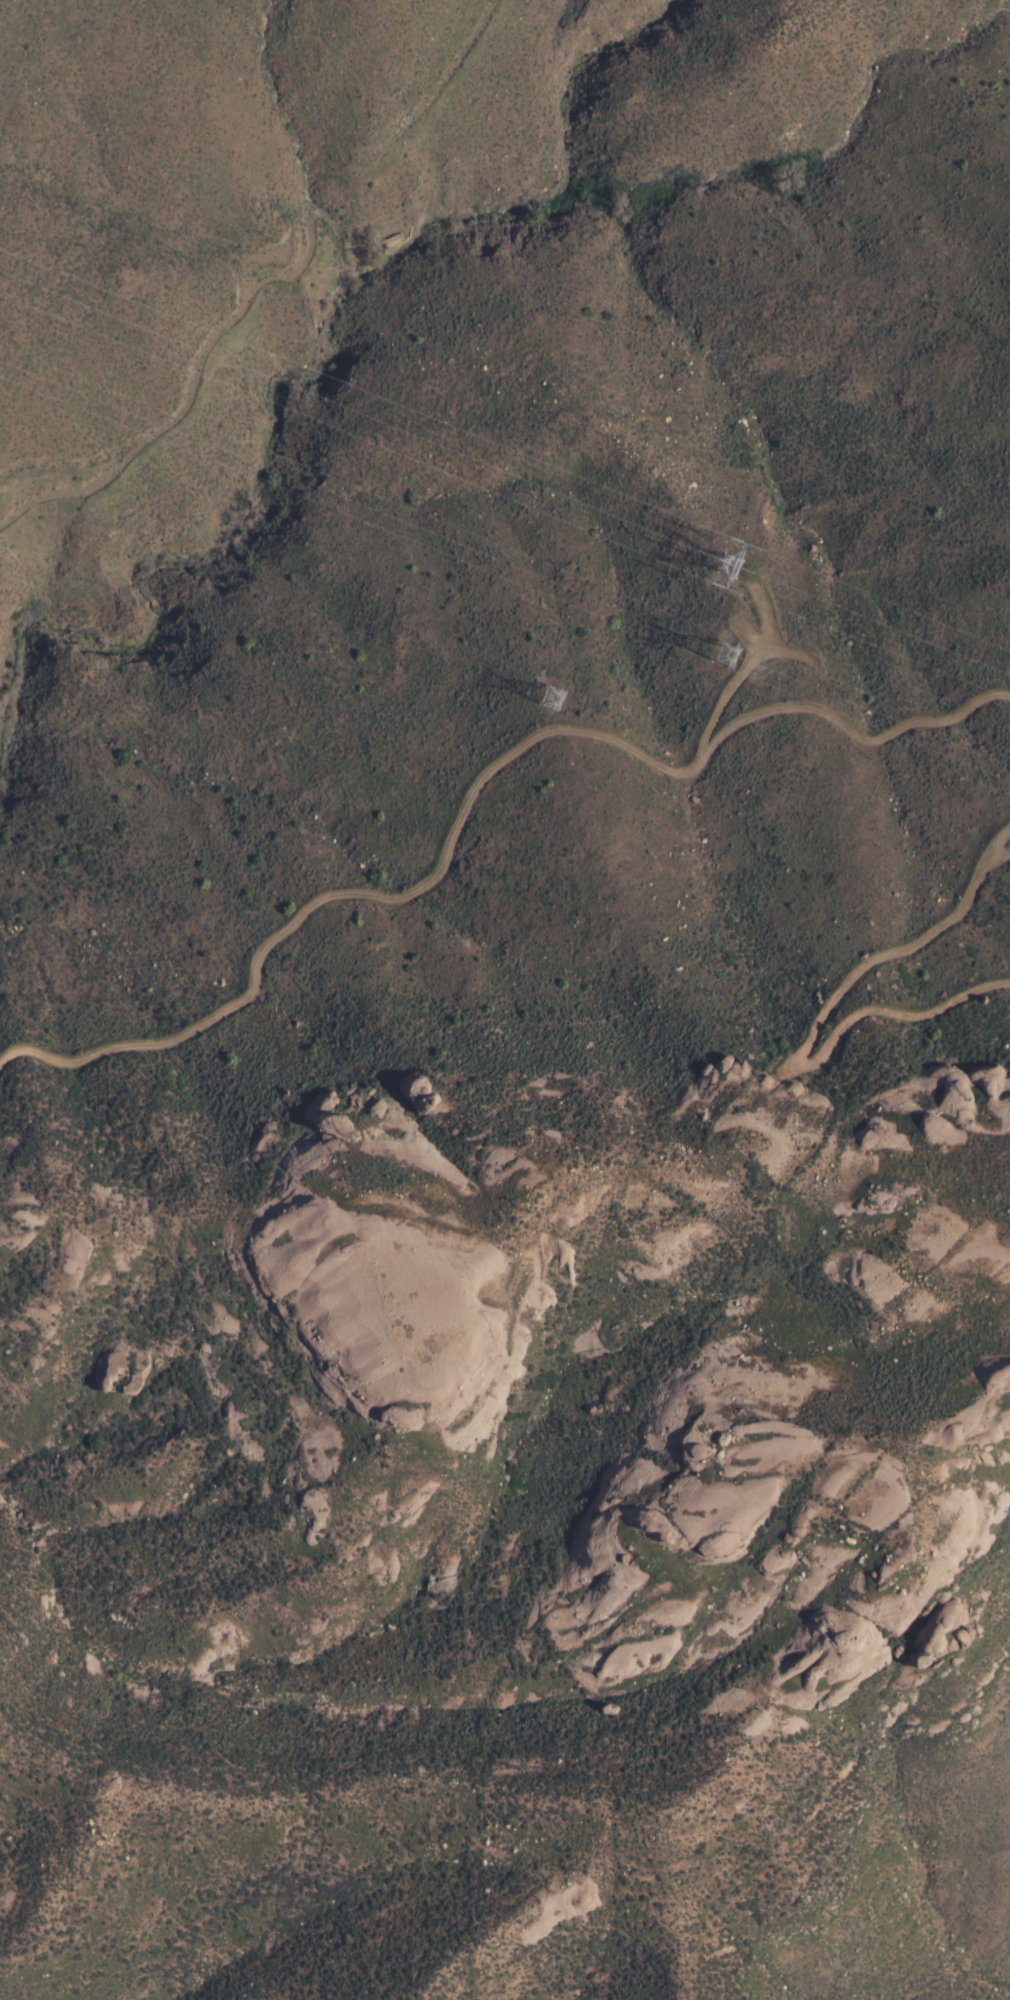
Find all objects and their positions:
building: (392, 238)
power tower: (713, 560)
power tower: (723, 654)
power tower: (543, 700)

